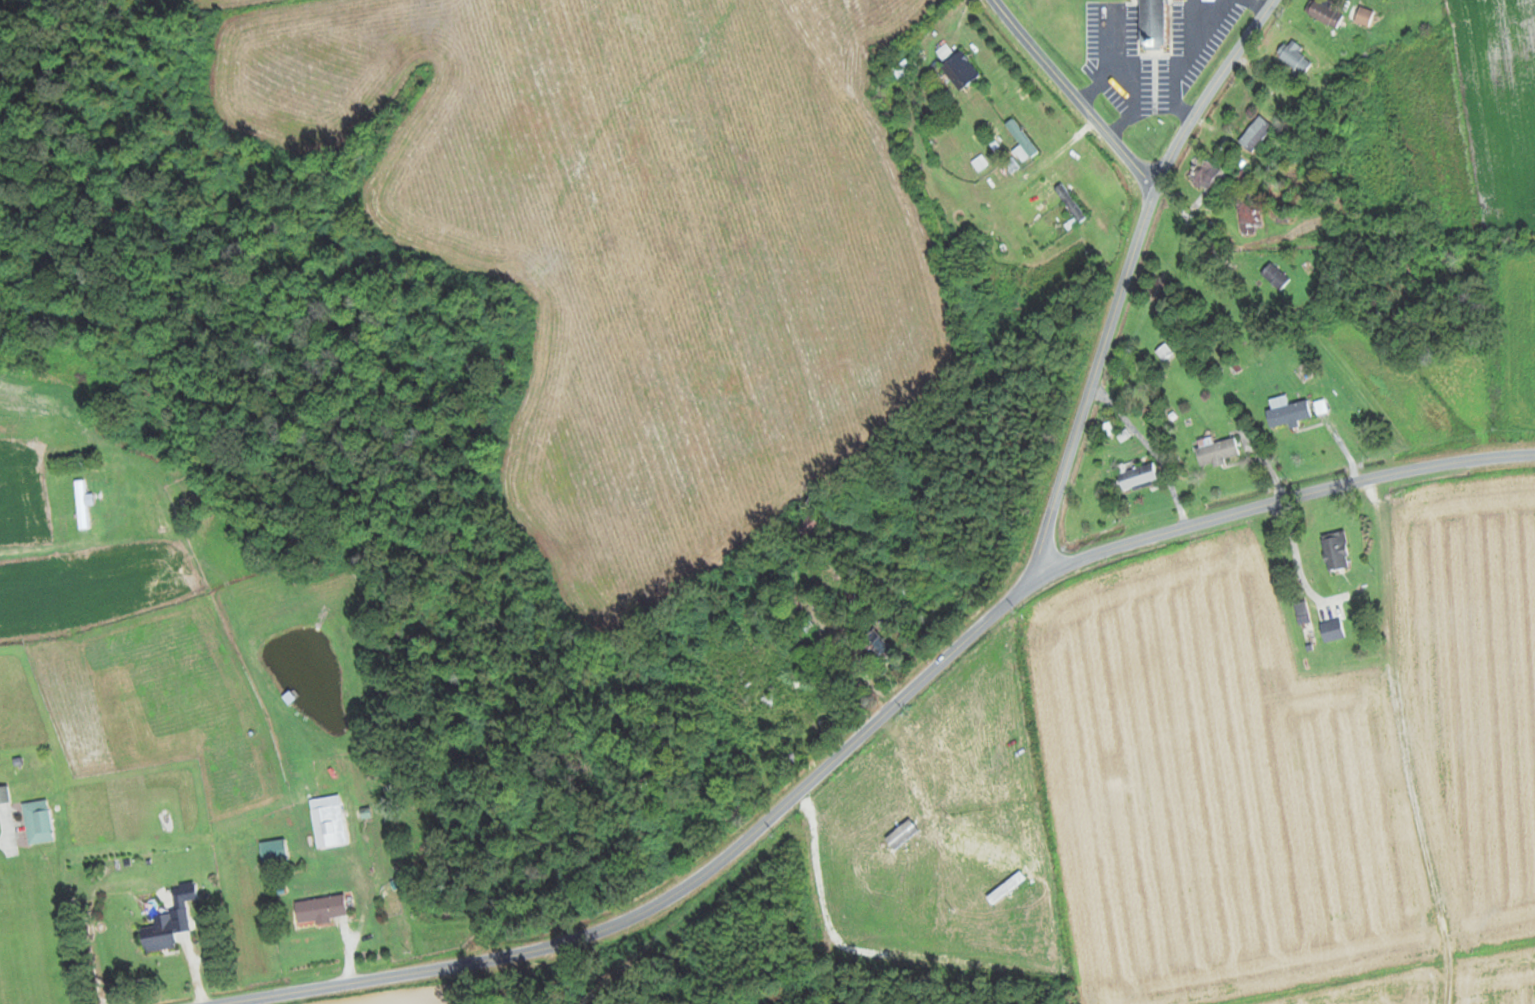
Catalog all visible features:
building: (1325, 13)
building: (1361, 15)
building: (1152, 24)
building: (1073, 31)
building: (1294, 57)
building: (903, 67)
building: (960, 70)
road: (1075, 94)
building: (1255, 134)
building: (1022, 142)
building: (980, 163)
building: (1012, 165)
building: (1207, 175)
building: (1070, 202)
building: (1247, 214)
building: (1275, 275)
building: (1165, 352)
road: (1428, 380)
road: (1330, 411)
building: (1288, 412)
building: (1218, 451)
building: (1138, 476)
road: (1276, 499)
building: (81, 503)
road: (144, 527)
road: (20, 538)
building: (1336, 550)
building: (1332, 630)
building: (875, 648)
road: (912, 688)
building: (4, 796)
road: (1023, 809)
building: (729, 819)
building: (327, 821)
building: (38, 822)
building: (184, 892)
road: (809, 900)
building: (320, 910)
building: (159, 934)
road: (346, 944)
road: (188, 949)
road: (822, 1003)

